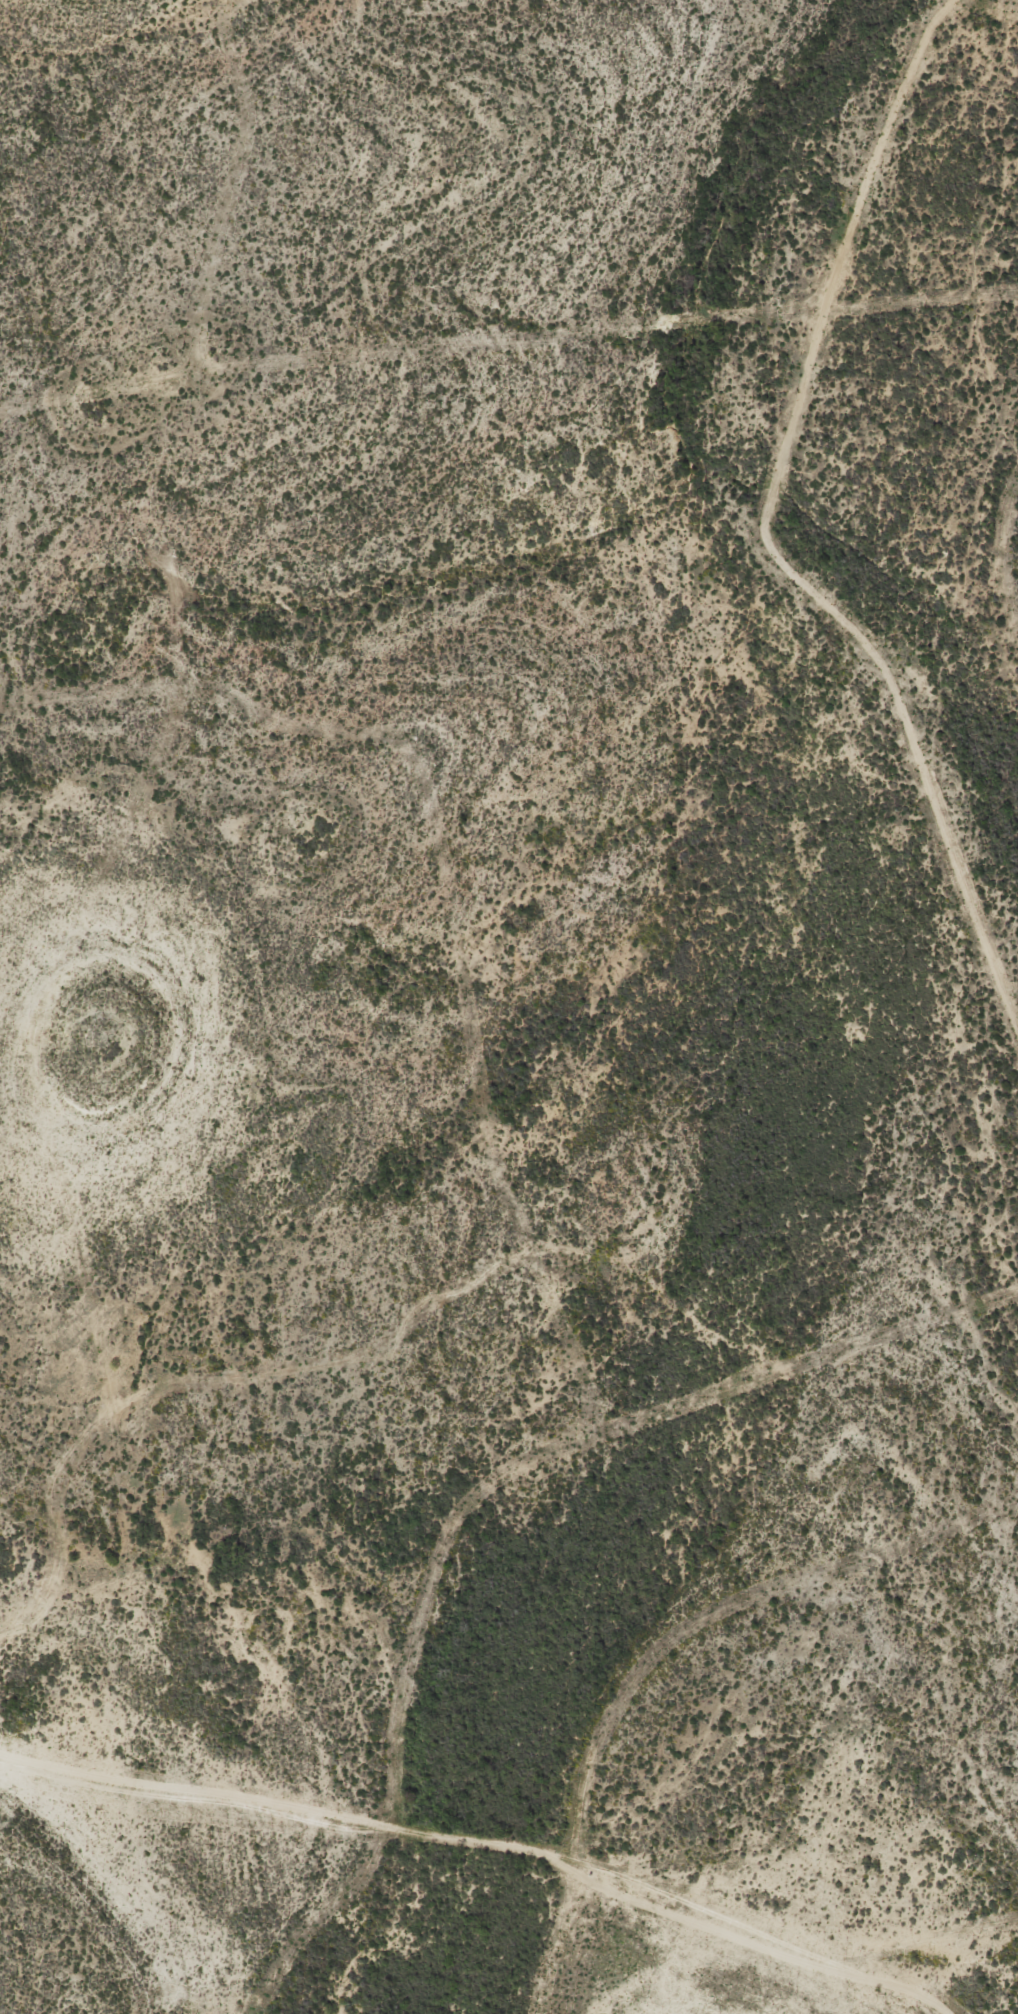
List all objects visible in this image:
road: (516, 1843)

